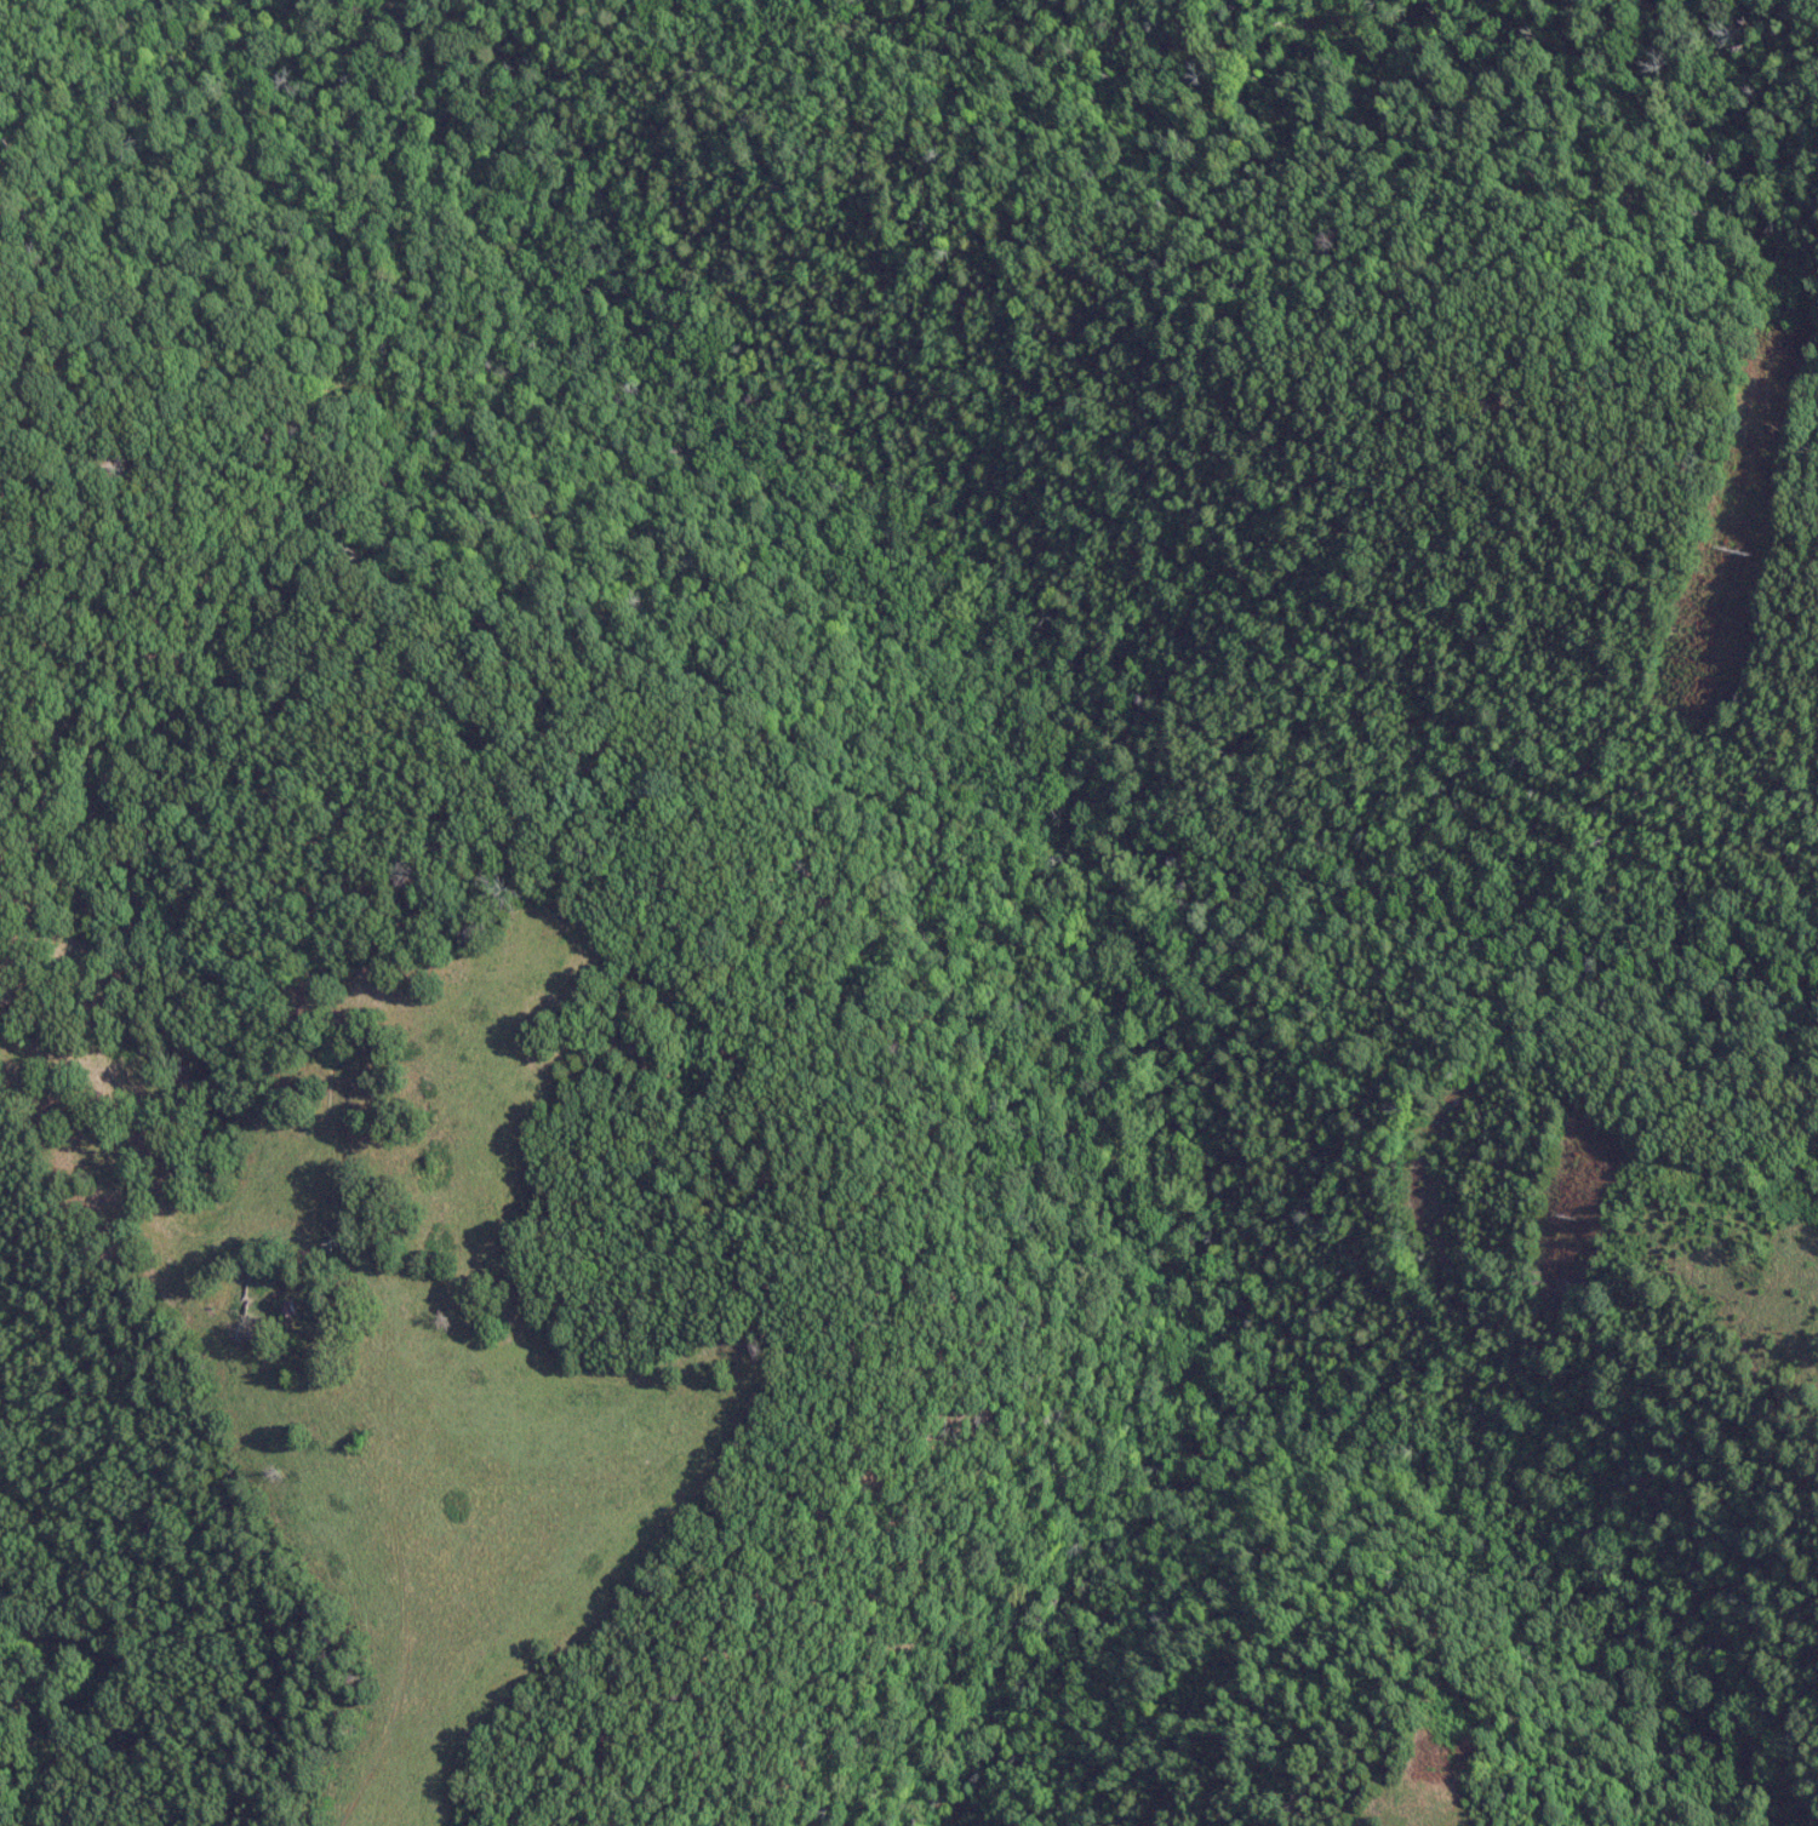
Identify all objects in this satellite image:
power tower: (1736, 550)
power tower: (1565, 1220)

